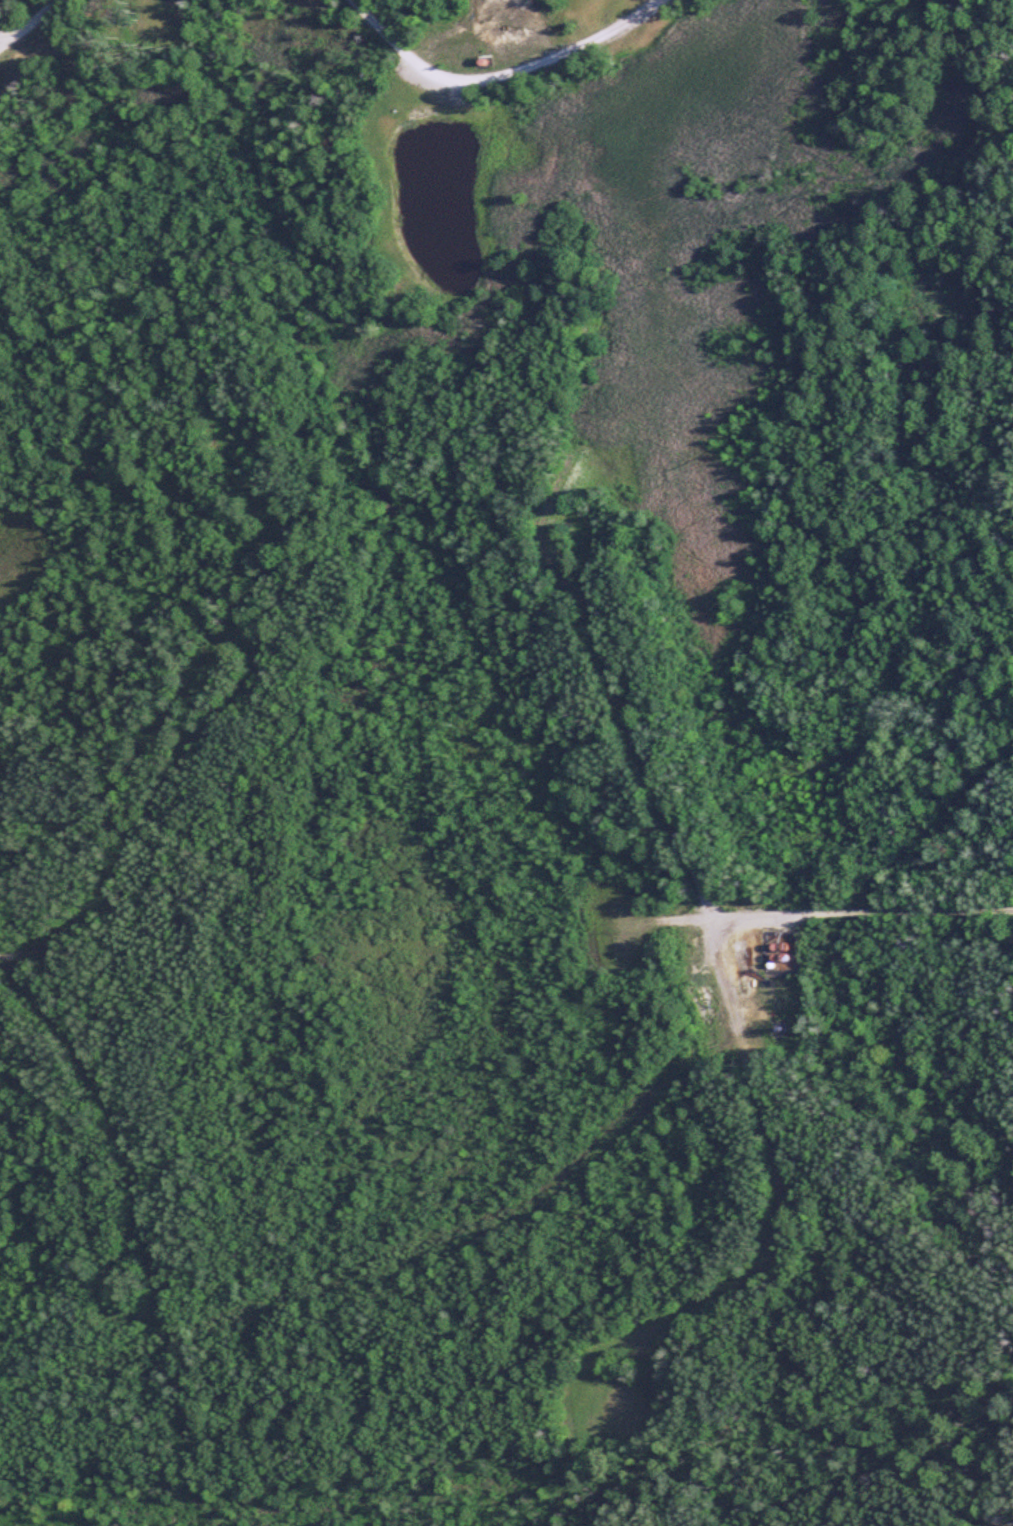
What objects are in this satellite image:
road: (29, 25)
road: (499, 77)
road: (3, 962)

